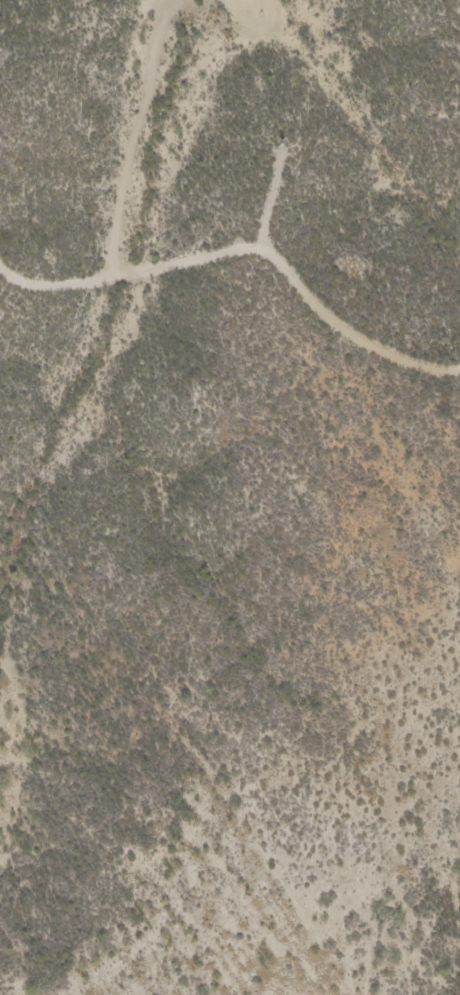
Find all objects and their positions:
road: (239, 253)

